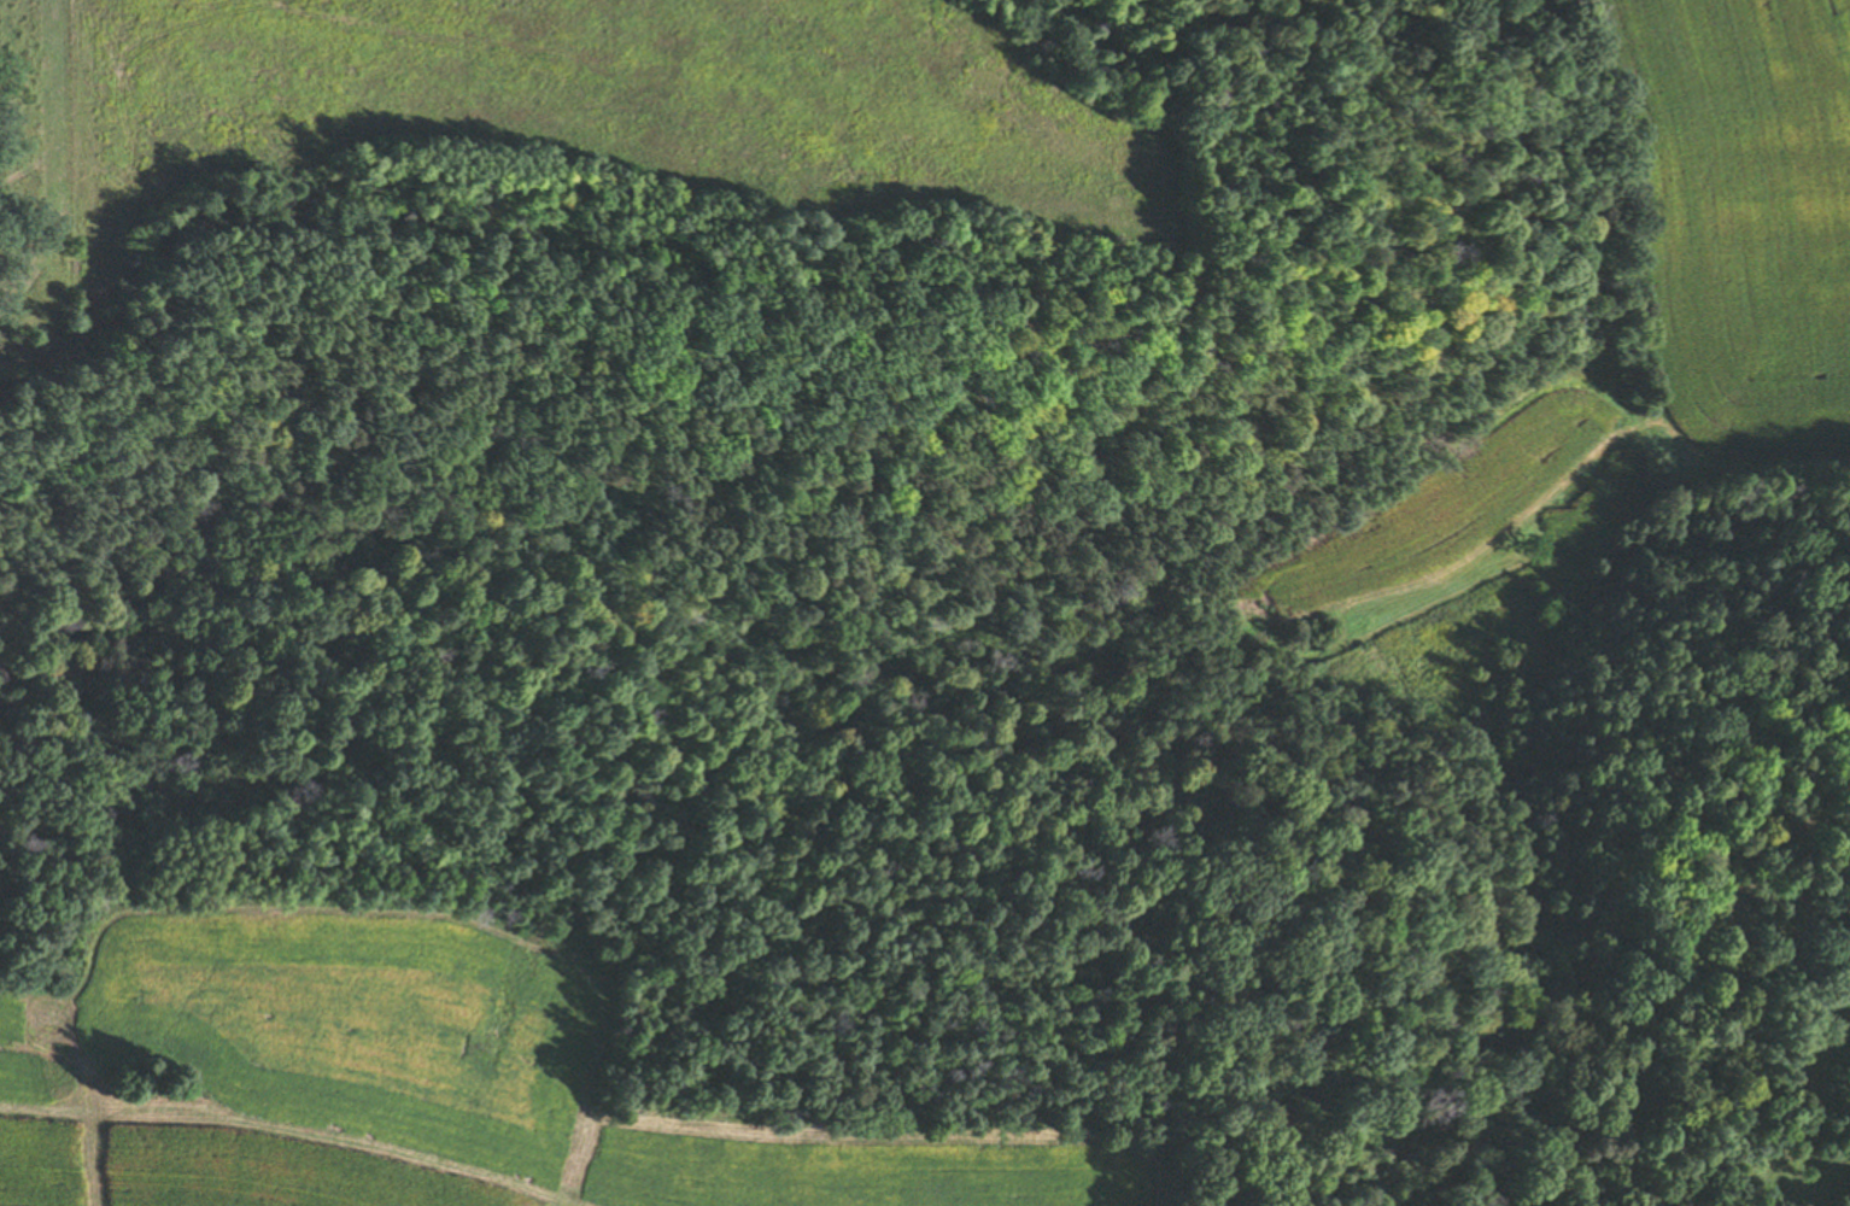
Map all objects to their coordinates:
crop: (625, 107)
crop: (34, 357)
crop: (41, 1100)

